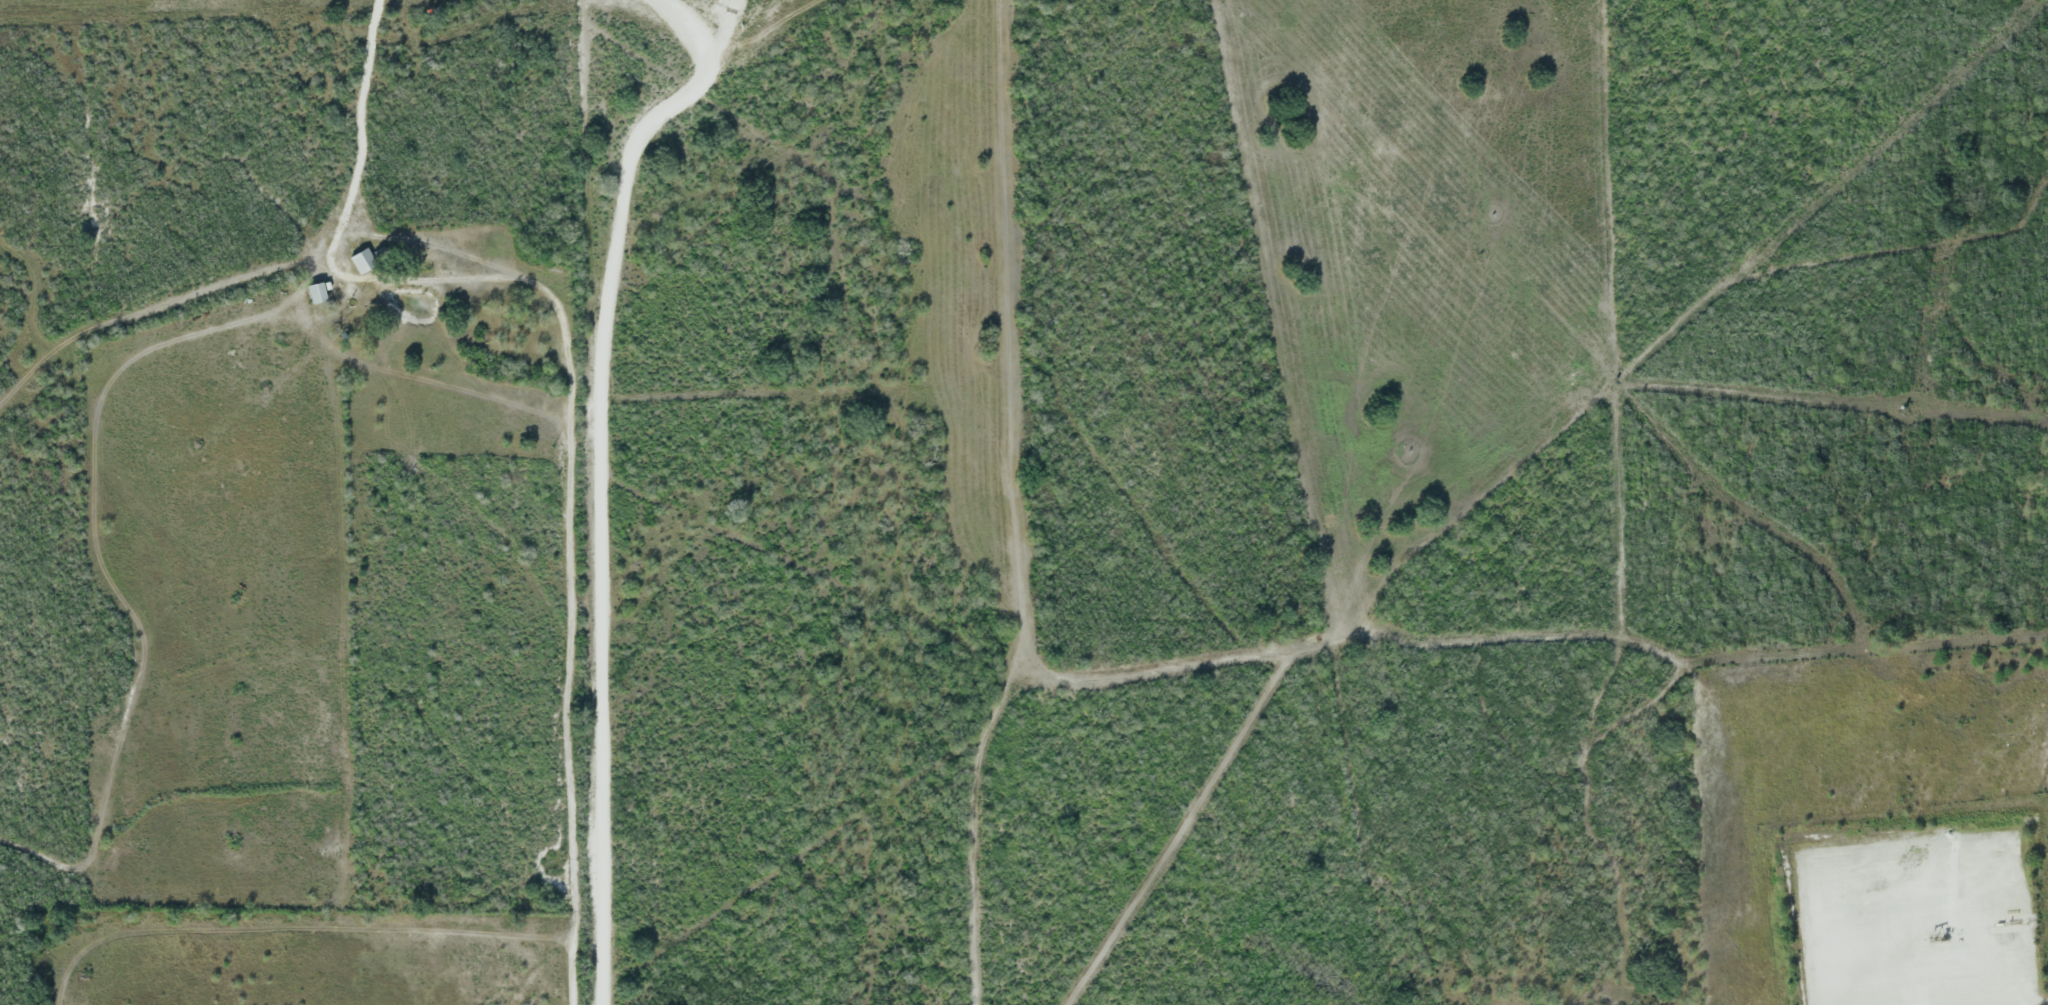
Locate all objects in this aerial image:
road: (683, 37)
building: (361, 263)
building: (314, 295)
road: (599, 475)
road: (567, 579)
road: (1919, 986)

